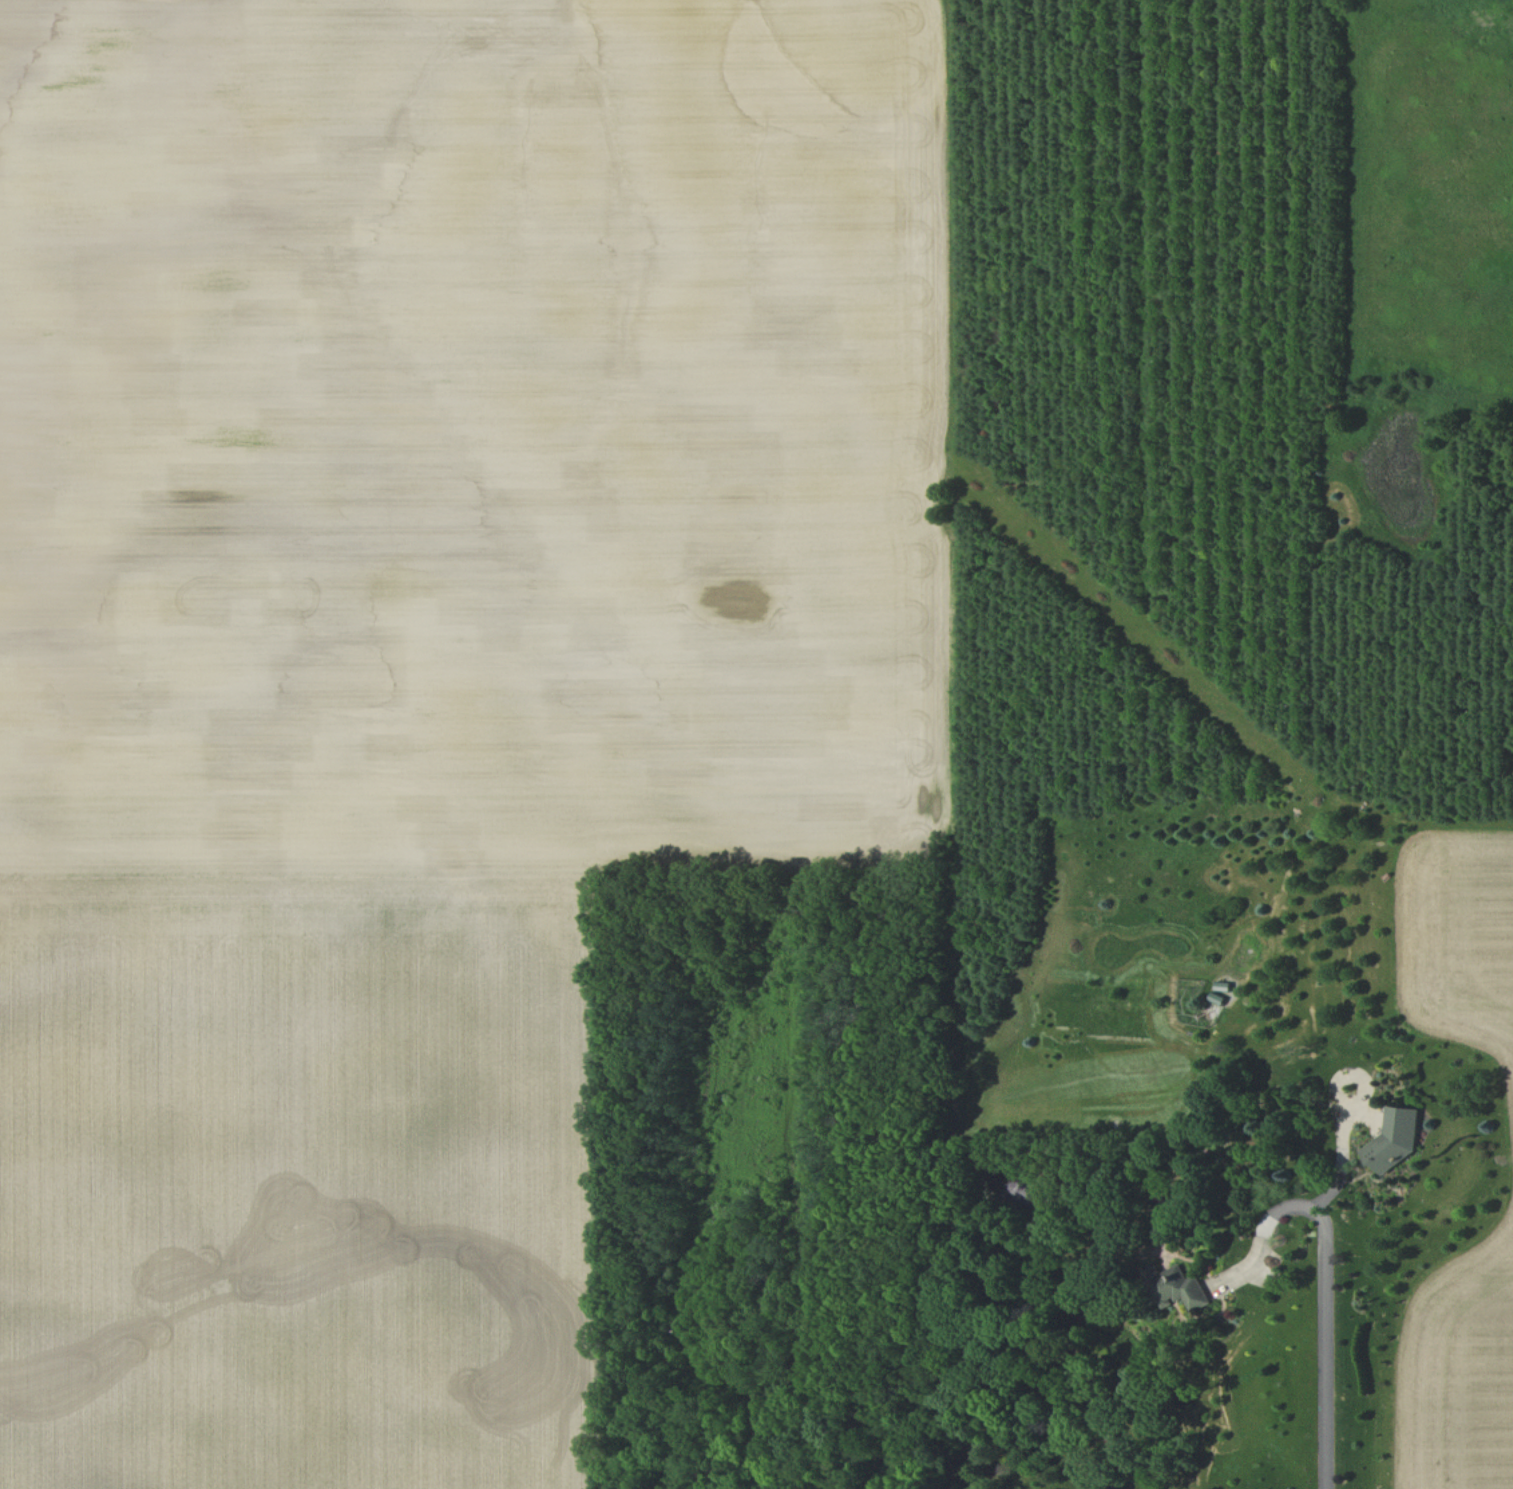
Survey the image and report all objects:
building: (1397, 1141)
road: (1341, 1160)
building: (1181, 1287)
road: (1328, 1298)

